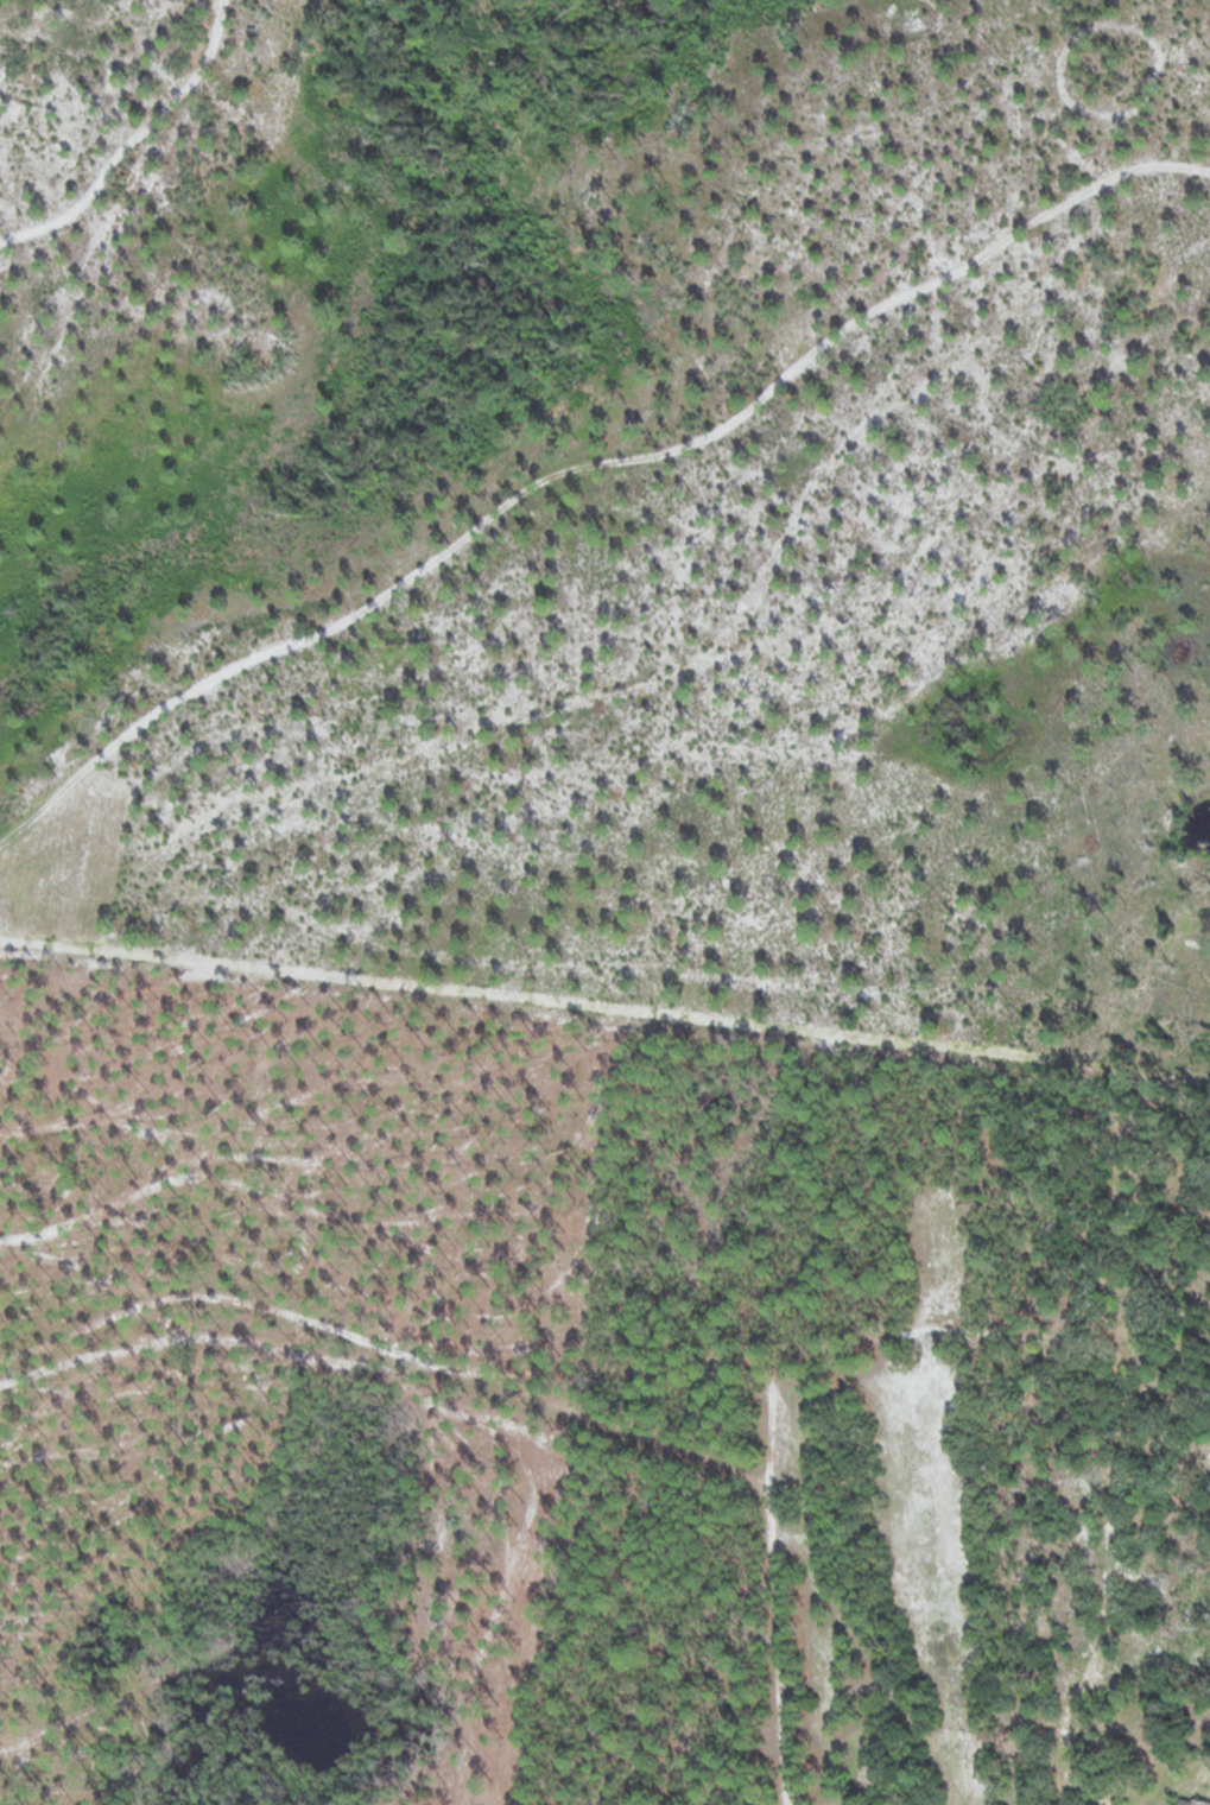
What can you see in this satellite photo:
building: (1195, 1801)

